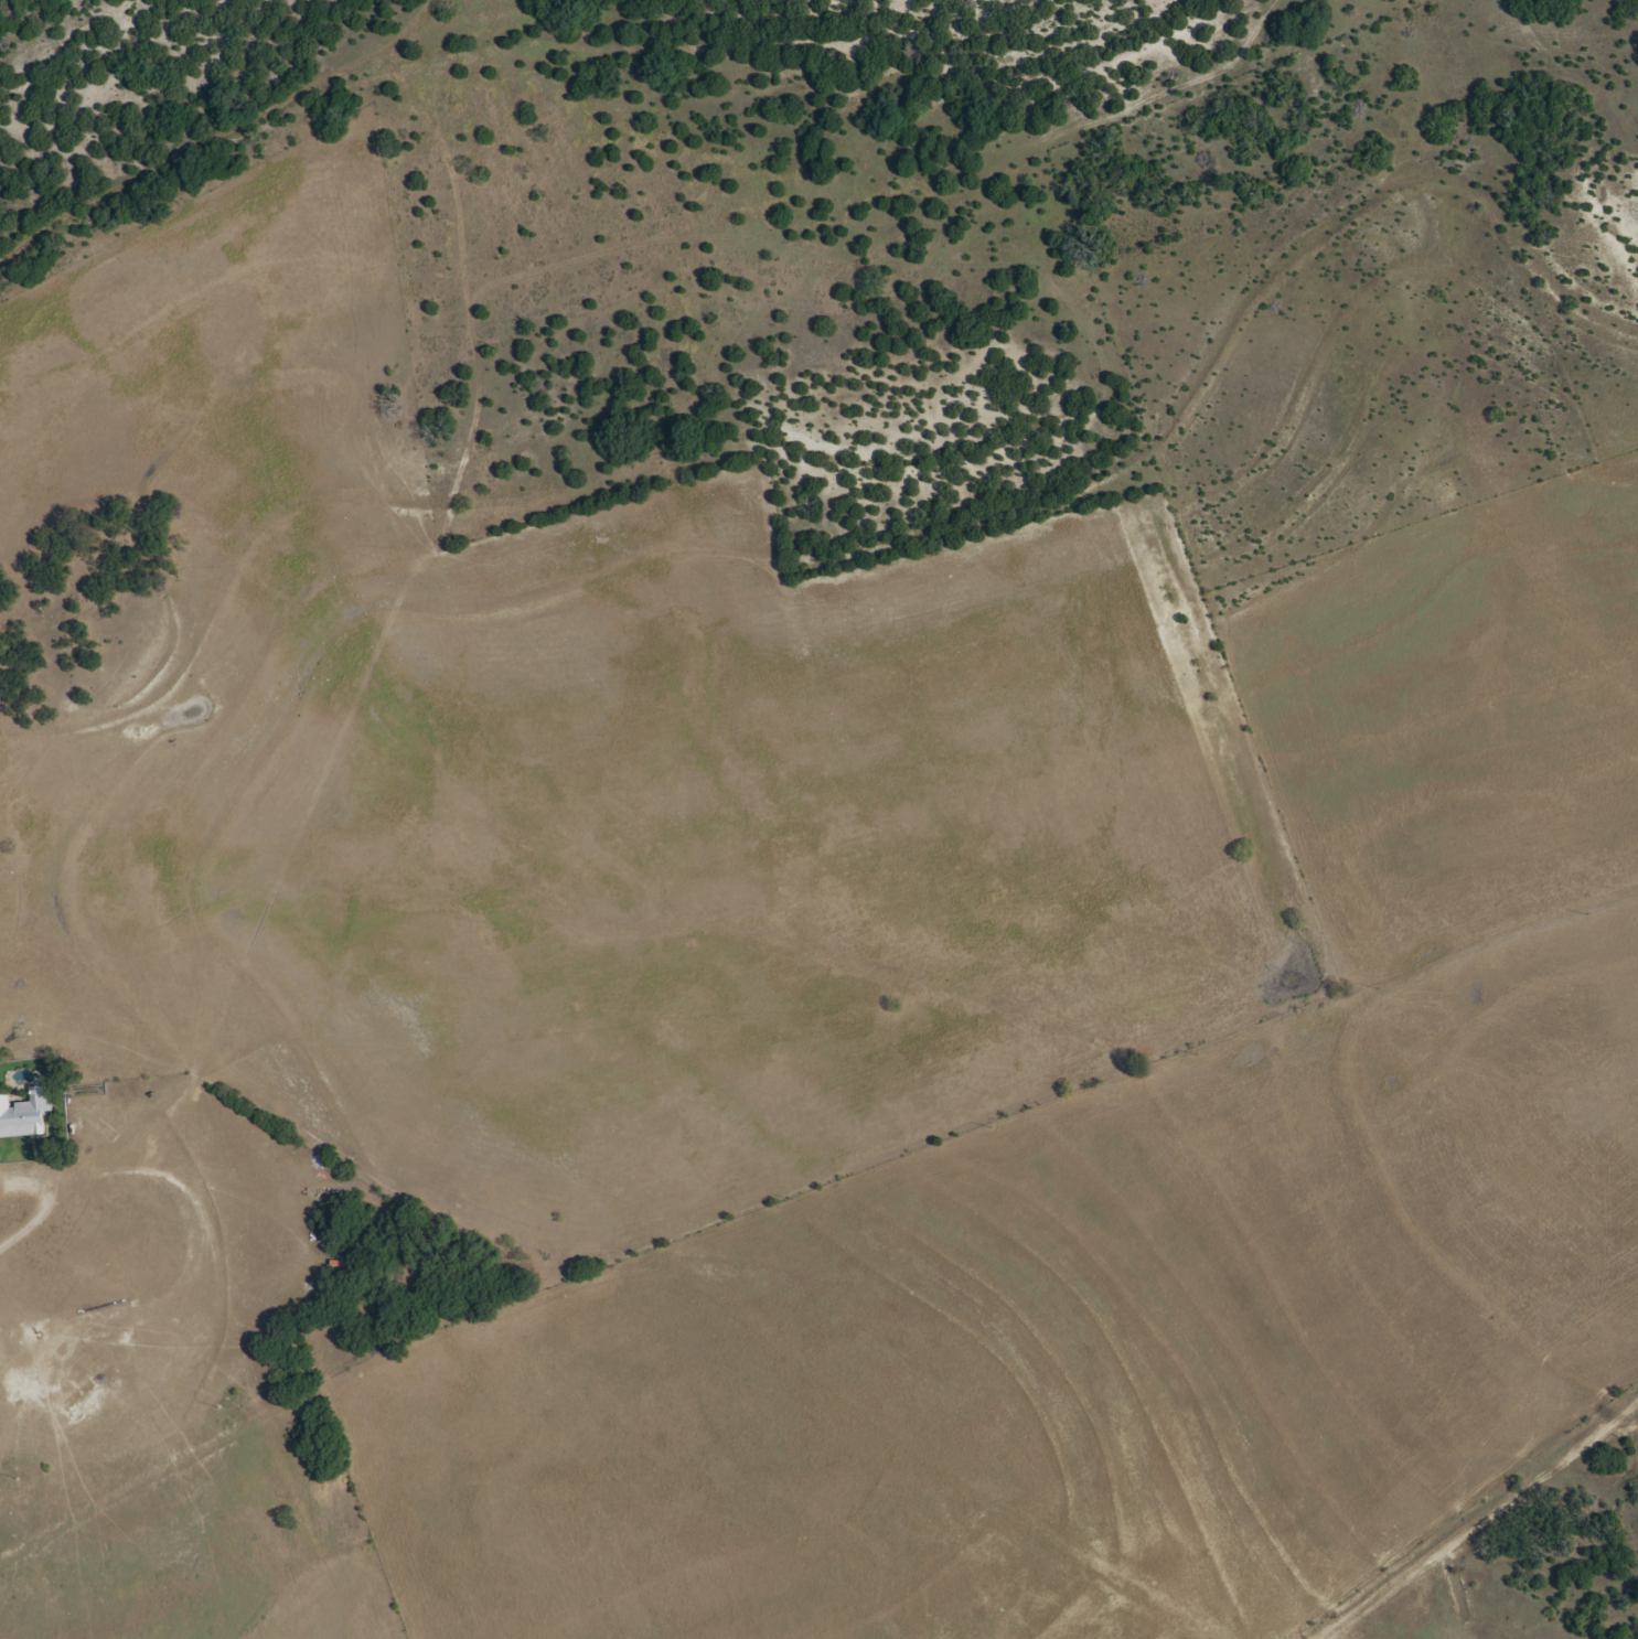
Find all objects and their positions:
building: (23, 1118)
road: (629, 1274)
road: (1496, 1526)

